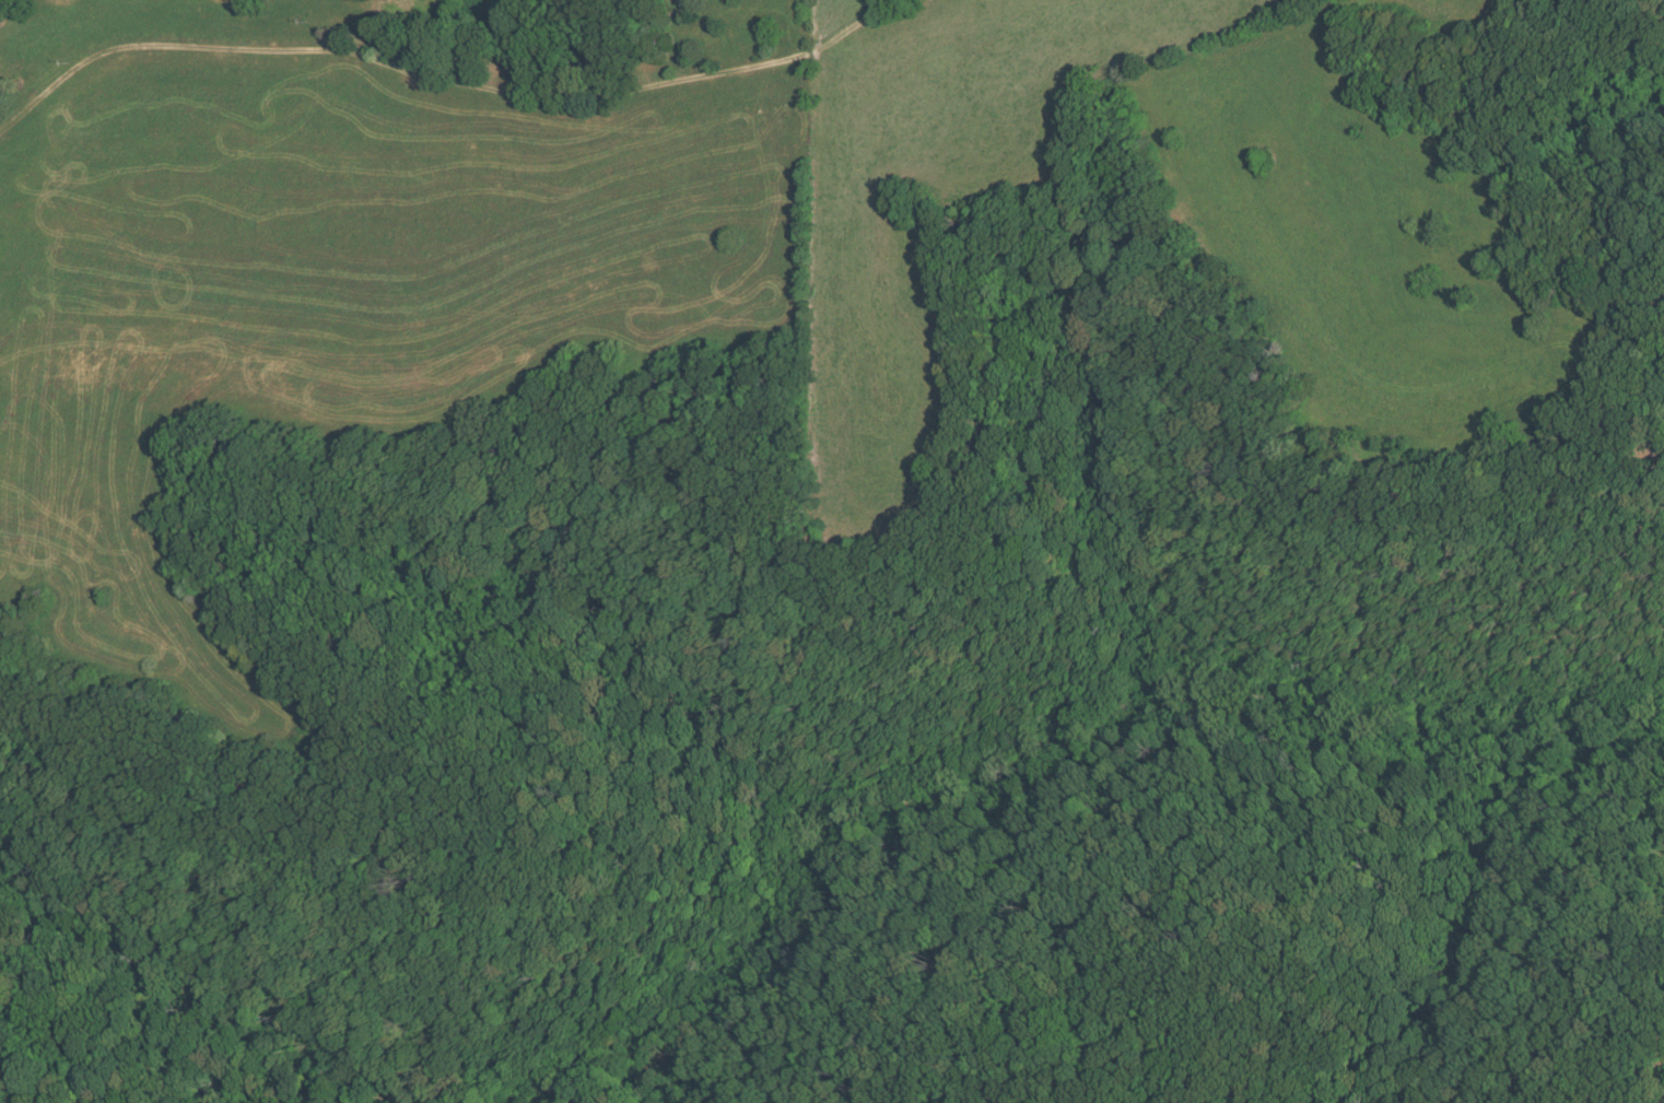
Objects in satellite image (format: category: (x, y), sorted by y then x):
road: (449, 74)

